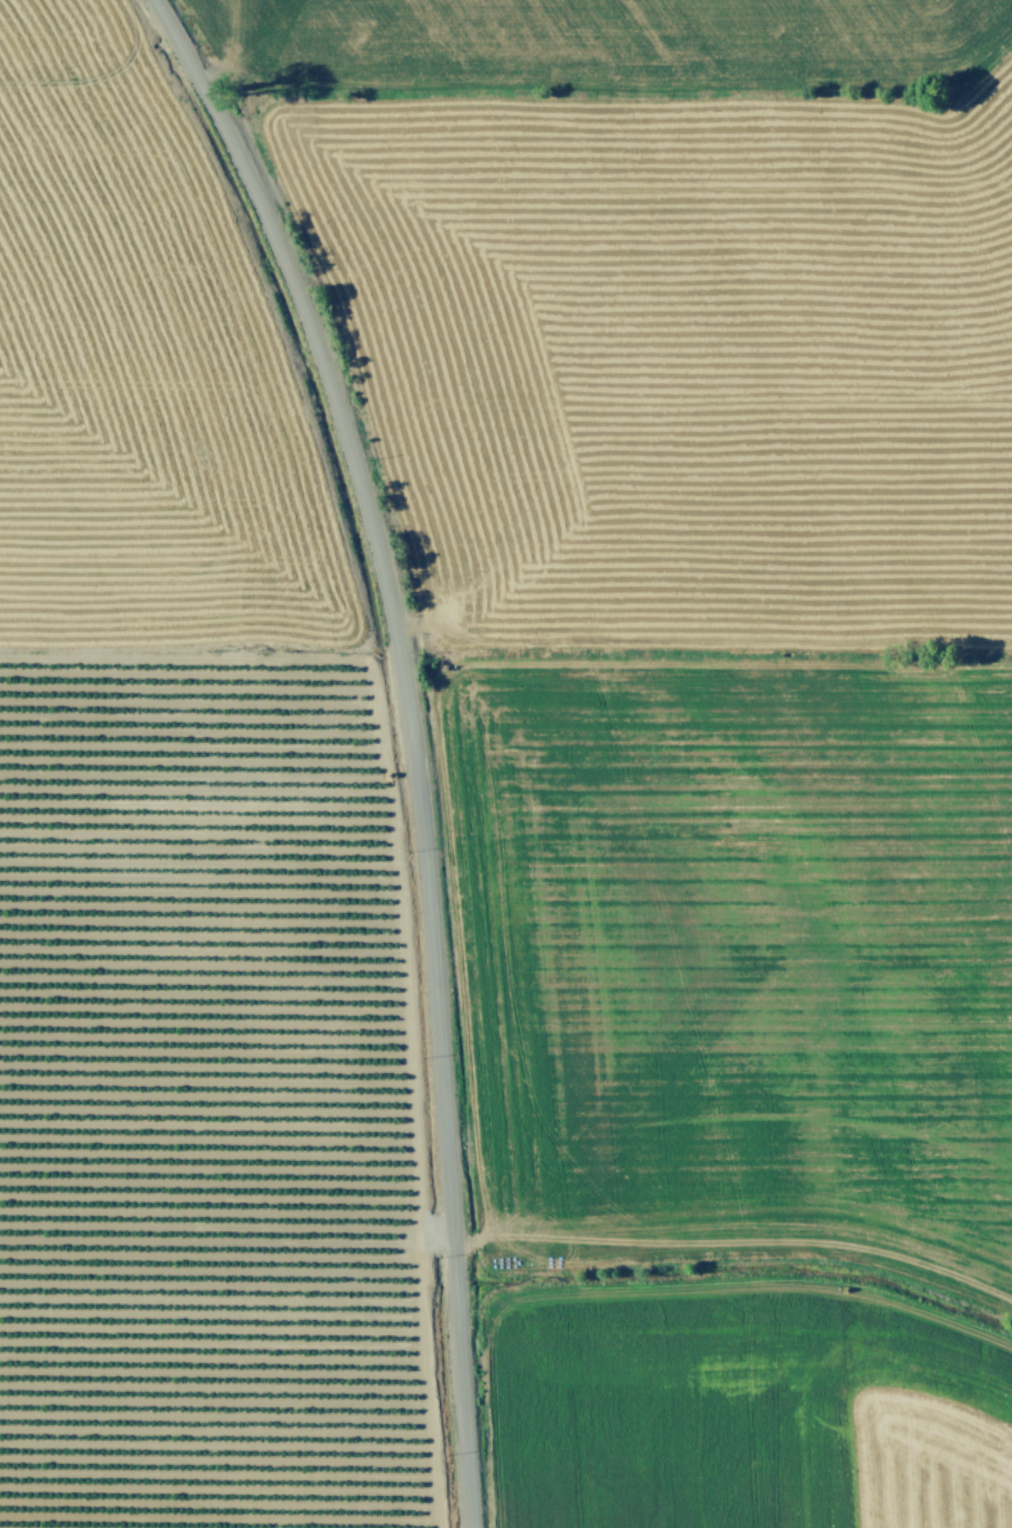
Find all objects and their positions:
road: (411, 739)
crop: (506, 764)

